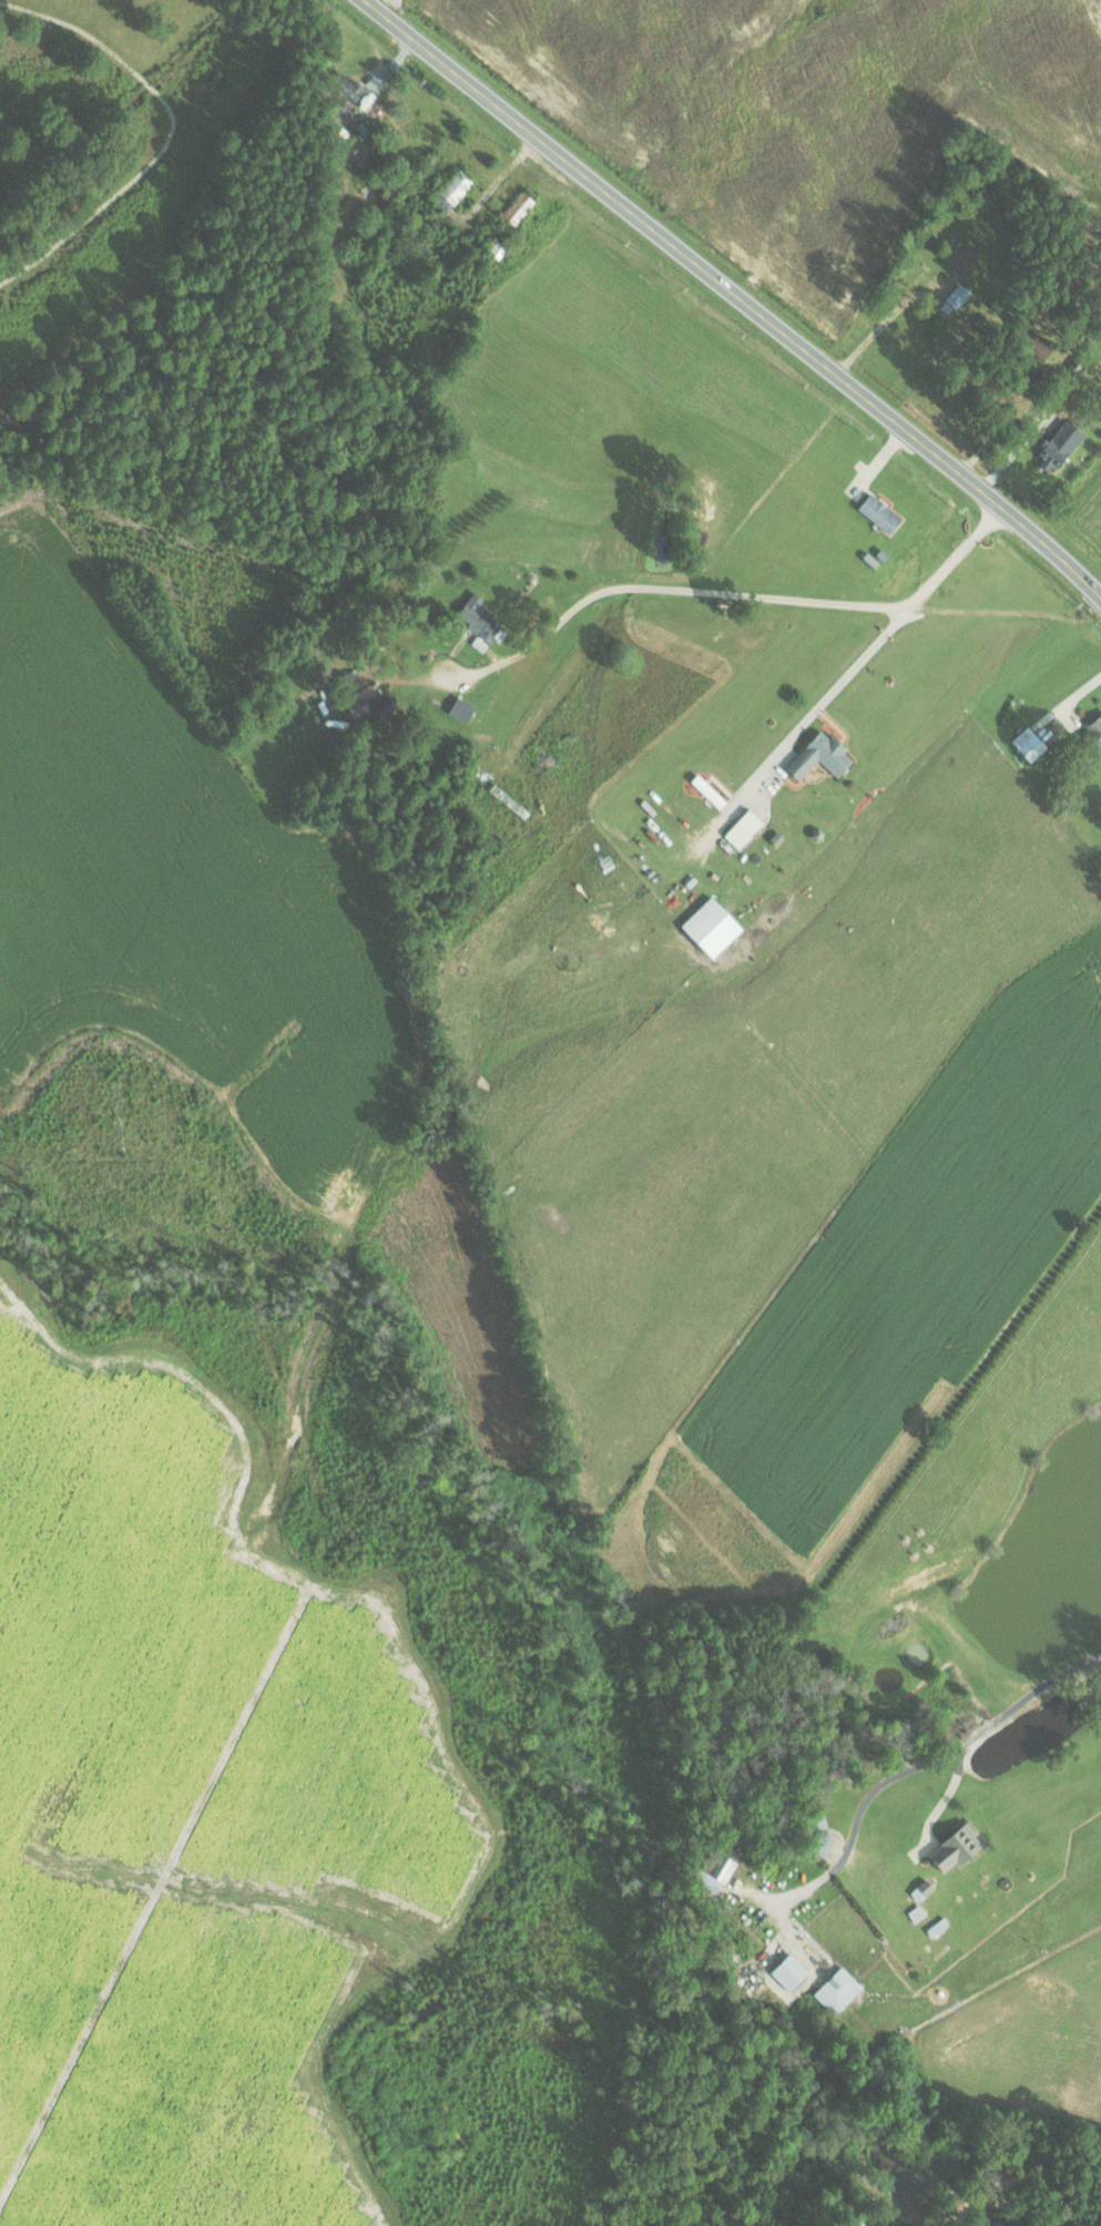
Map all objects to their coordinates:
road: (376, 4)
park: (116, 150)
building: (450, 192)
building: (518, 207)
building: (497, 248)
building: (961, 255)
road: (731, 296)
building: (1059, 443)
building: (880, 512)
road: (606, 589)
road: (865, 606)
building: (479, 617)
road: (868, 652)
road: (522, 653)
building: (358, 690)
building: (461, 708)
building: (1095, 727)
building: (1029, 743)
building: (822, 755)
building: (745, 828)
building: (712, 926)
road: (925, 1763)
building: (958, 1848)
building: (716, 1876)
building: (922, 1890)
building: (789, 1972)
building: (838, 1991)

